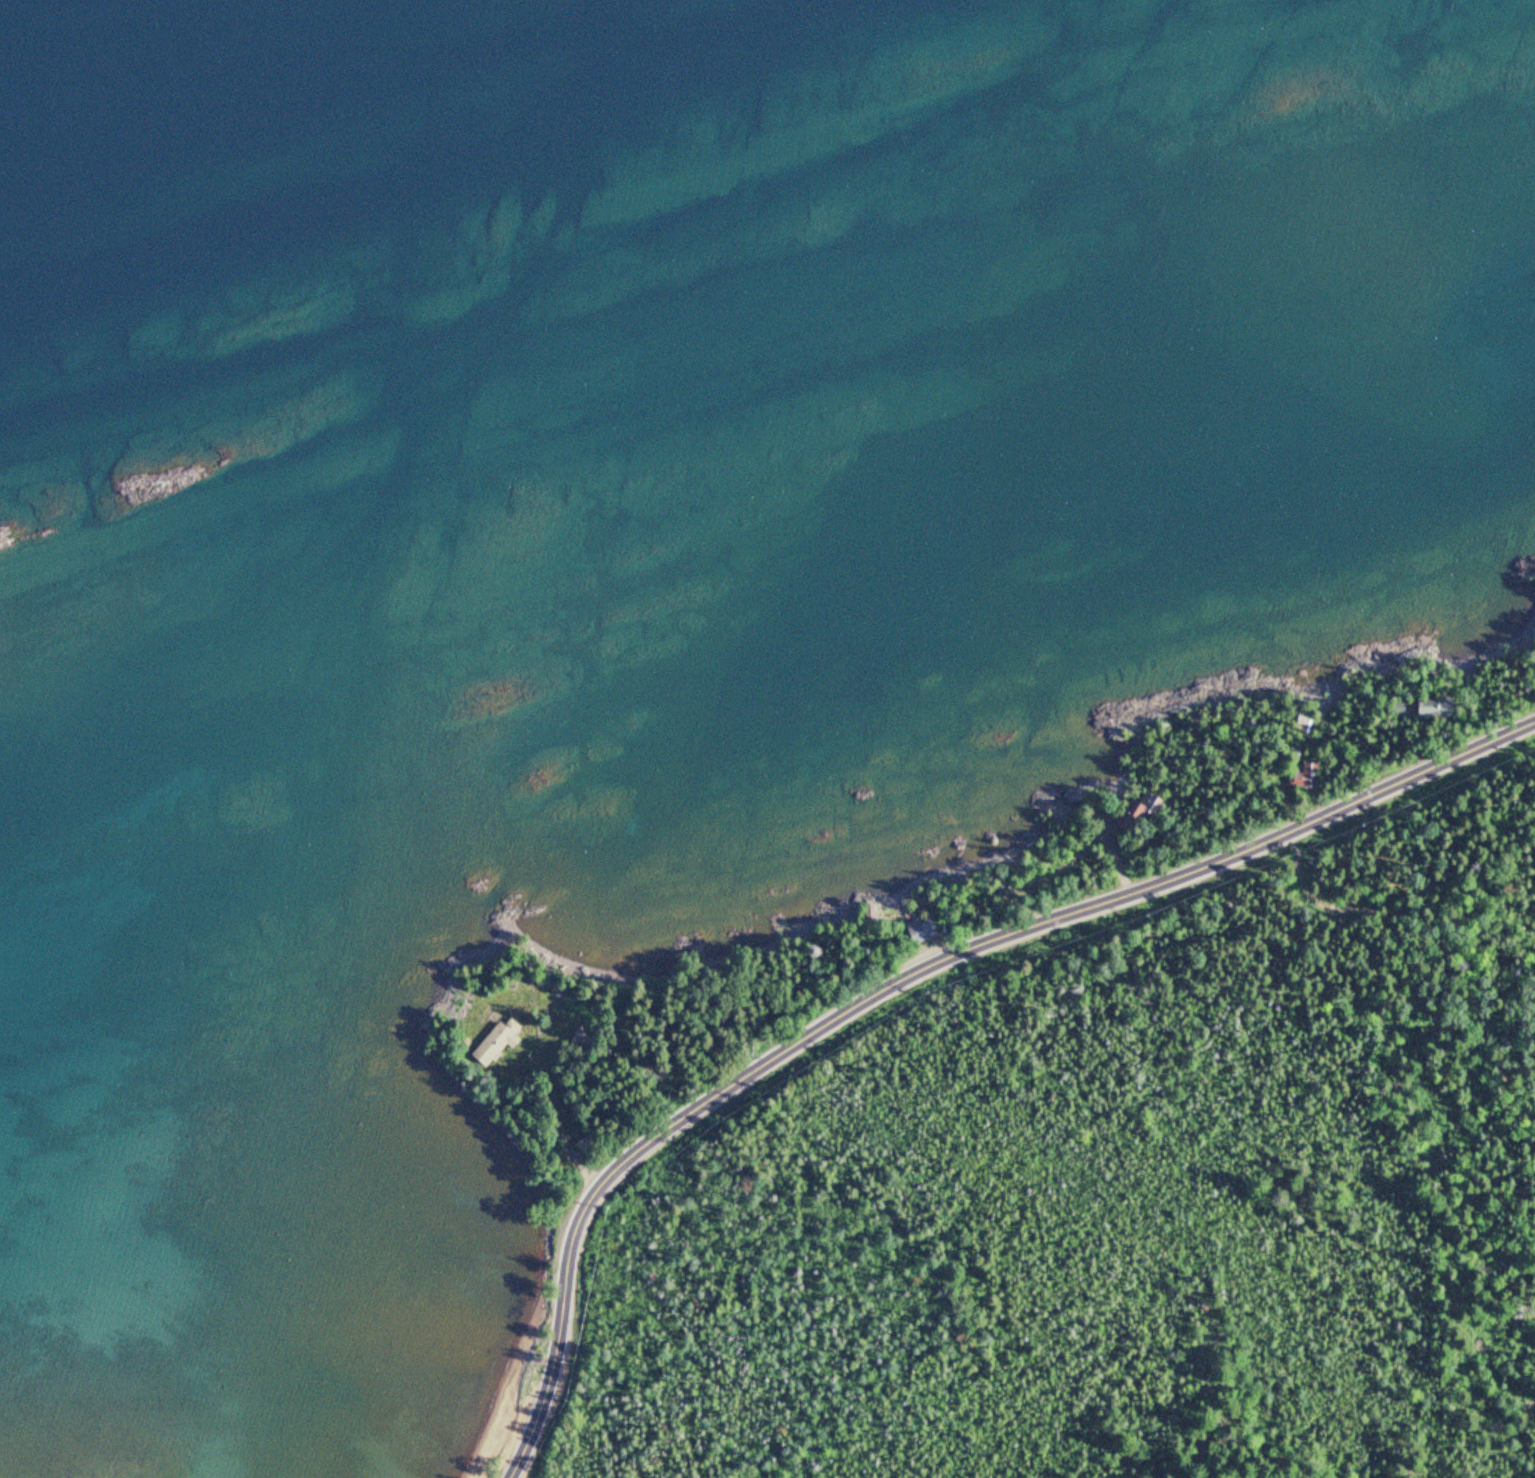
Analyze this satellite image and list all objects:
road: (906, 977)
building: (501, 1041)

